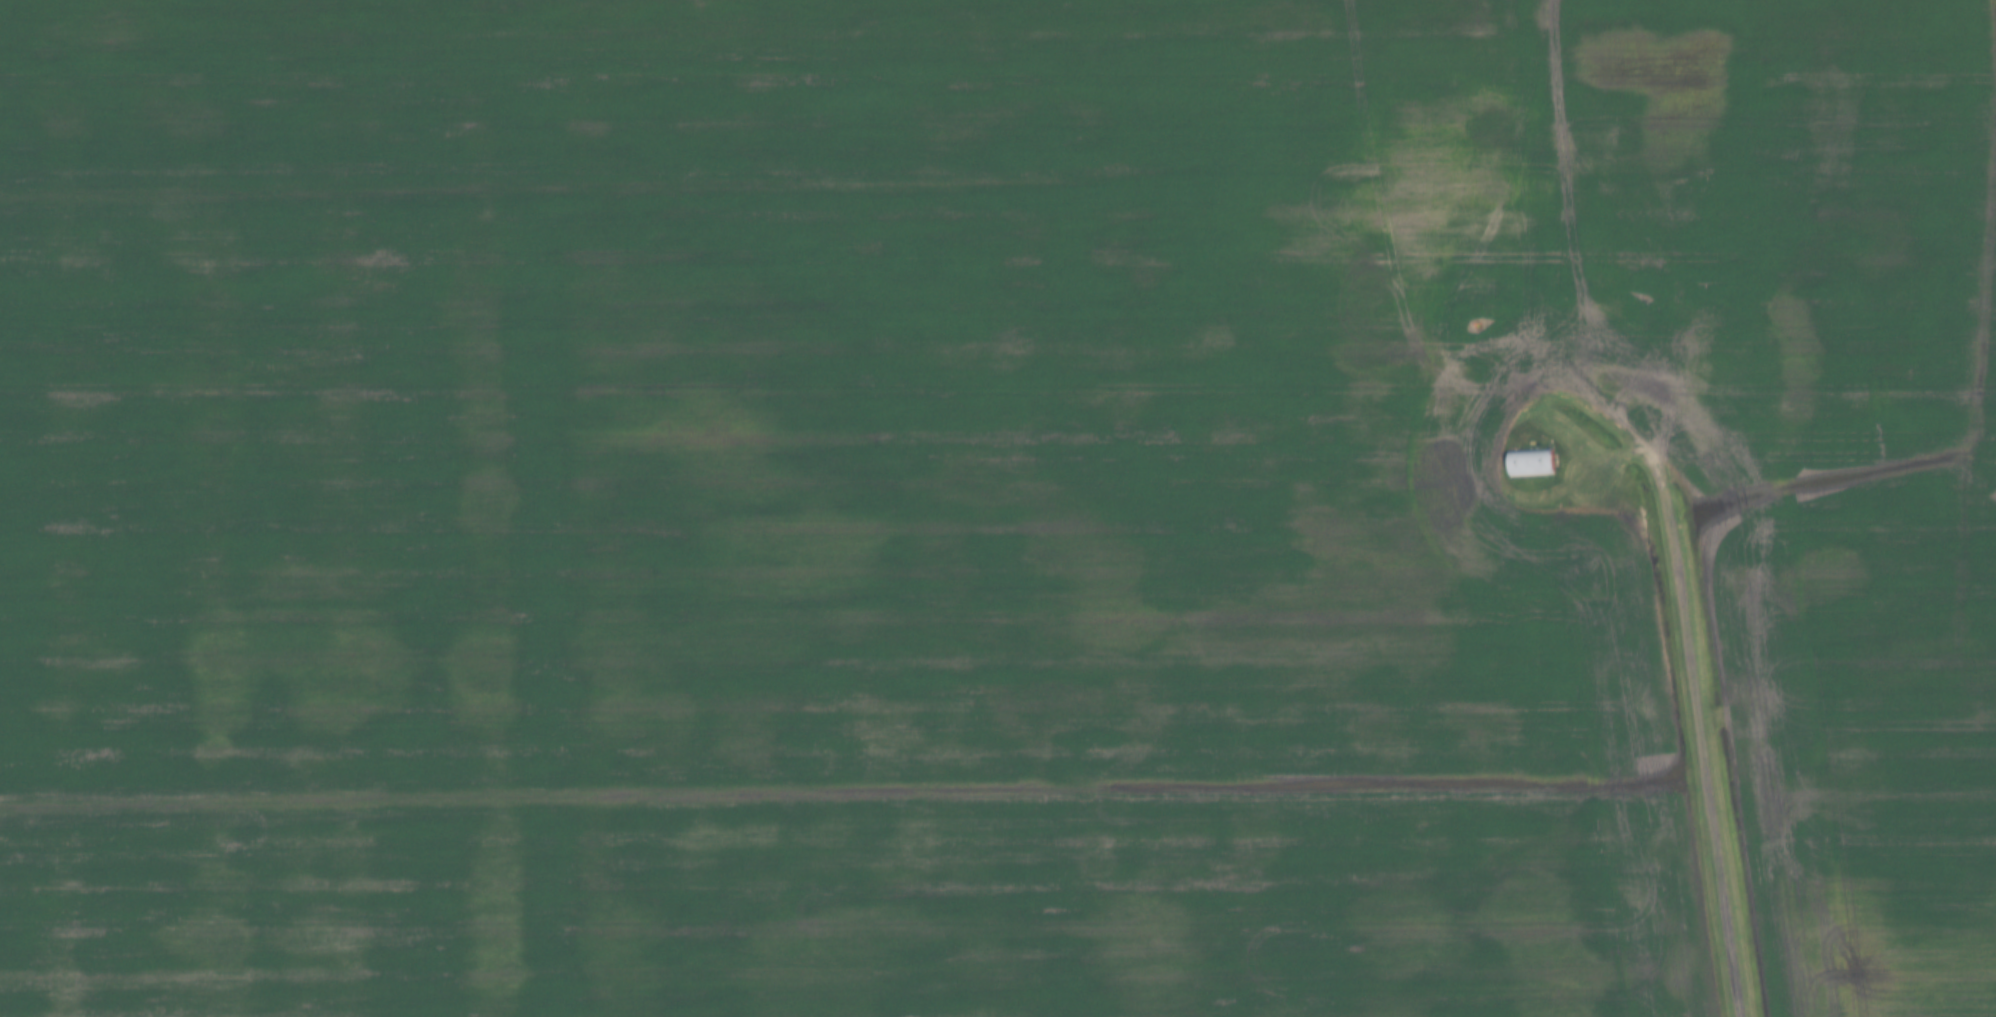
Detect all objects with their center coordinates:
road: (1694, 697)

